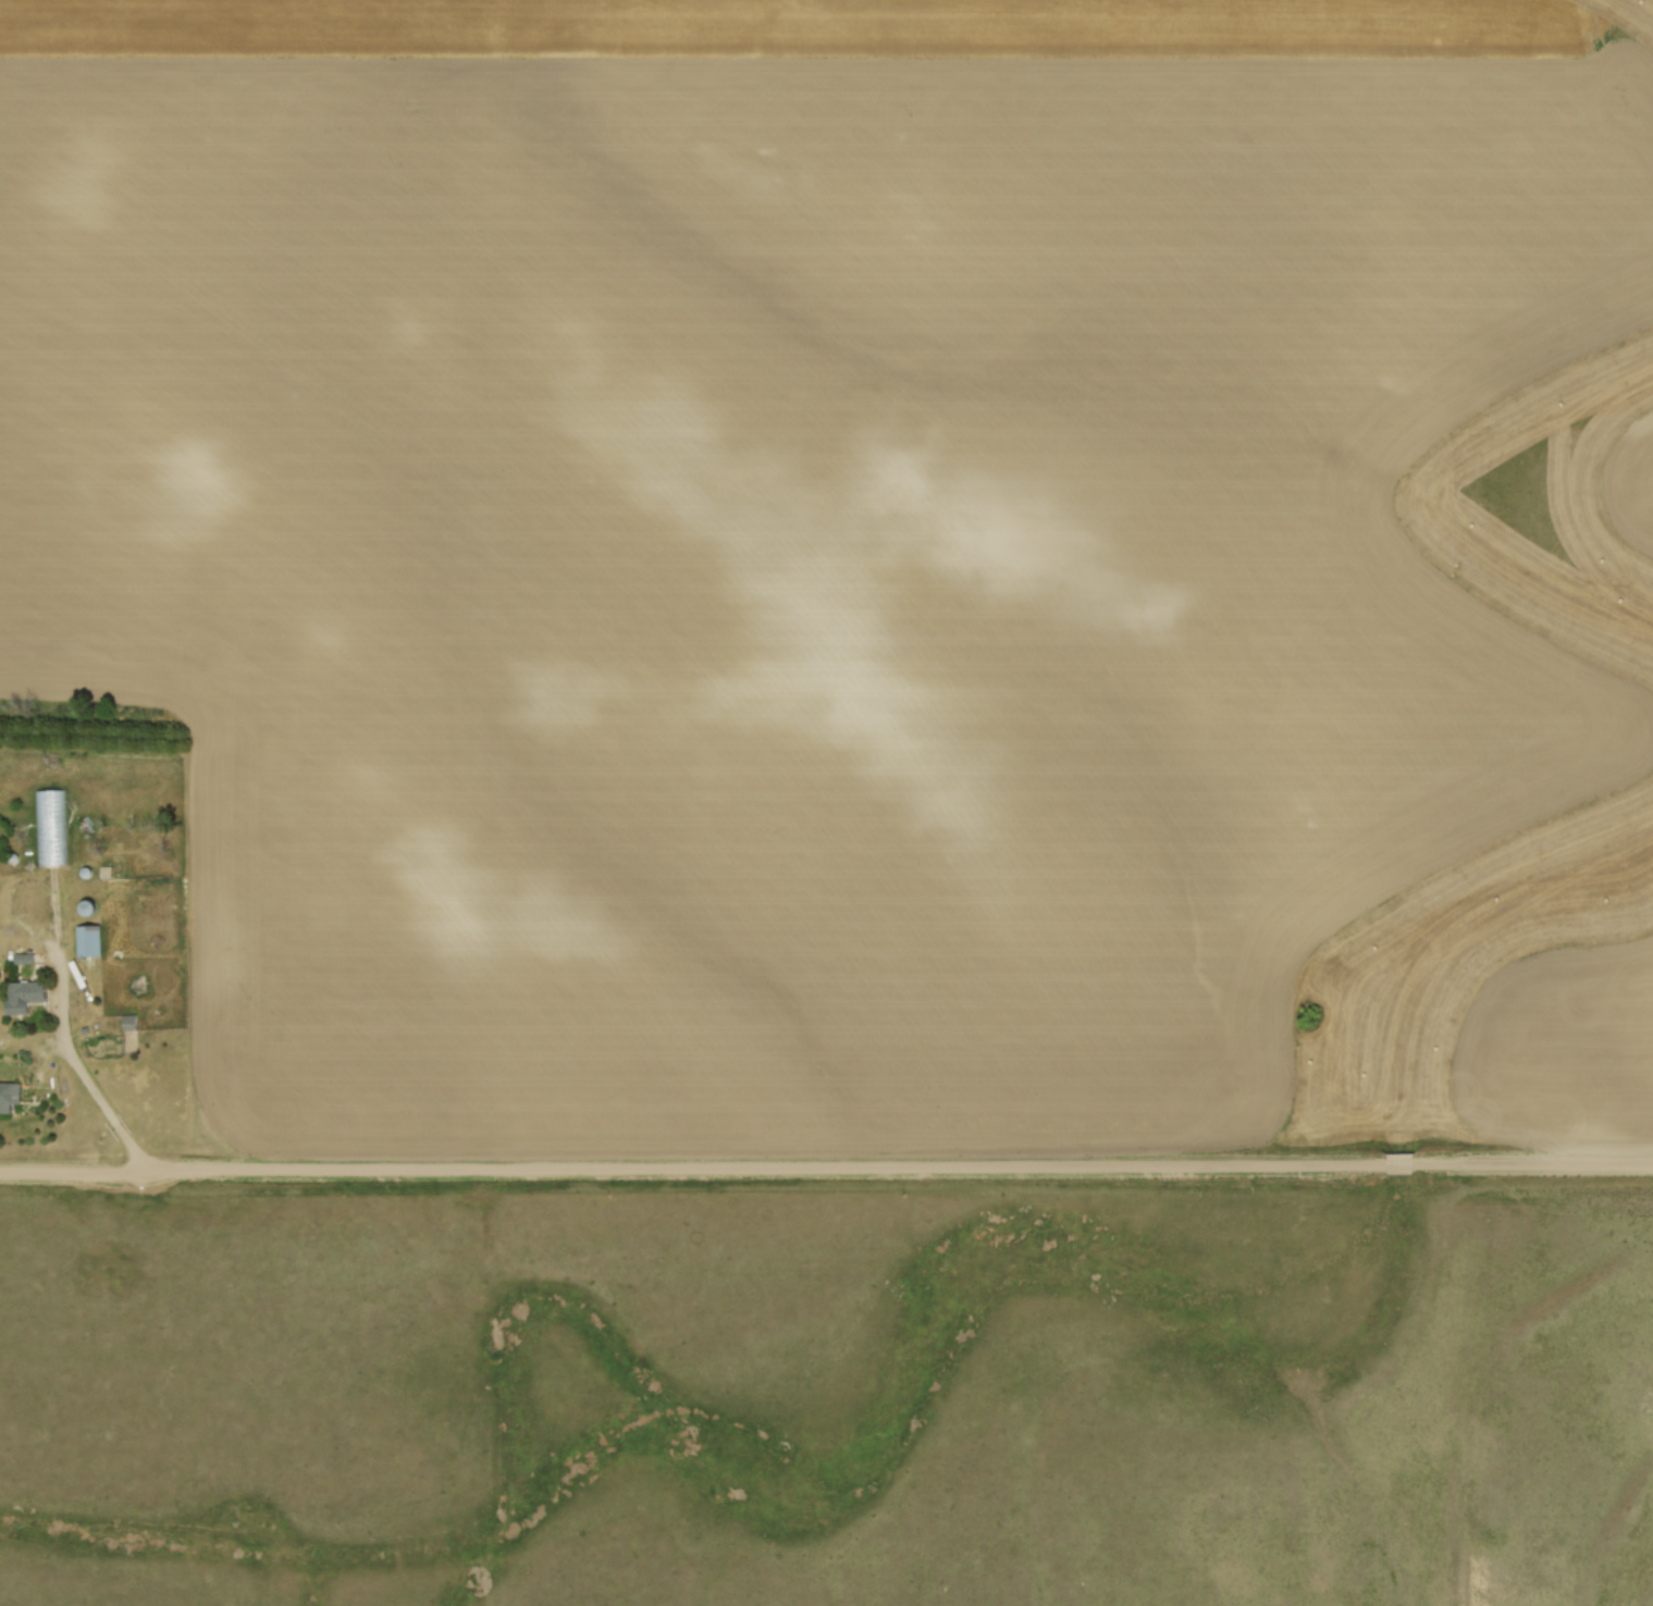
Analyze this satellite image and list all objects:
crop: (1629, 483)
crop: (792, 532)
building: (50, 826)
silo: (15, 857)
building: (108, 870)
silo: (88, 873)
silo: (88, 907)
building: (89, 939)
building: (26, 958)
building: (24, 996)
building: (129, 1022)
road: (64, 1034)
crop: (1559, 1050)
building: (10, 1095)
road: (826, 1168)

